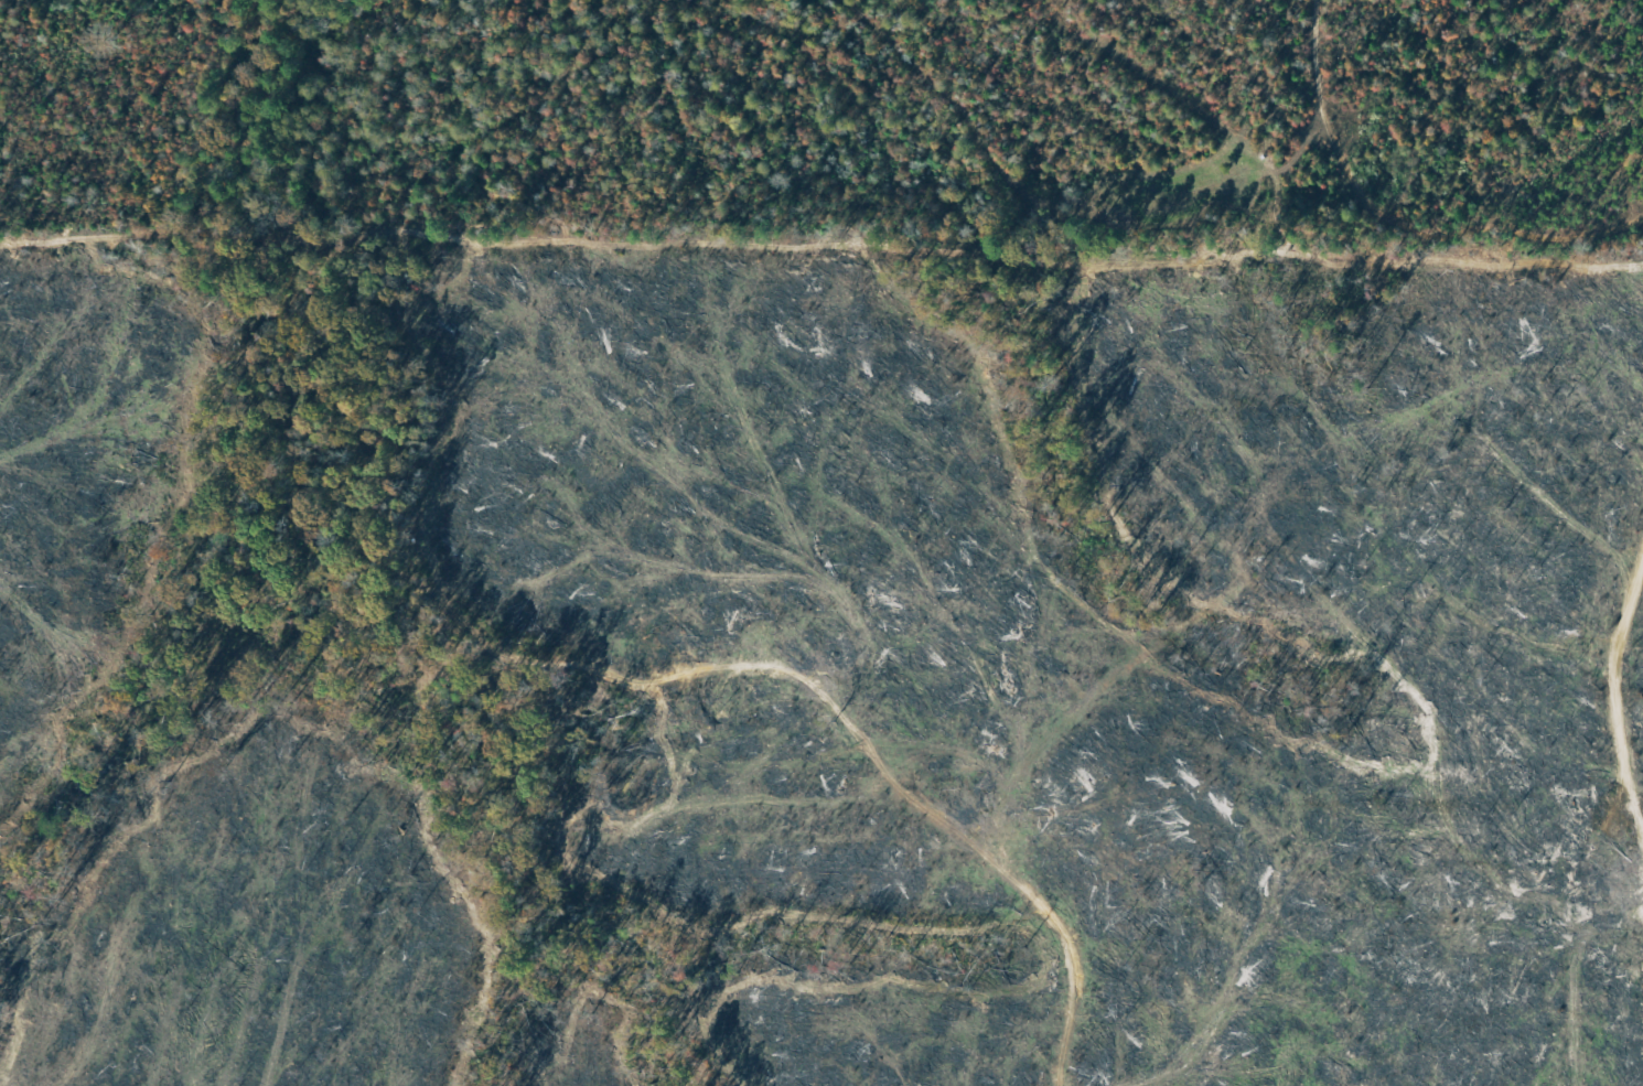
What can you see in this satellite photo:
road: (963, 814)

